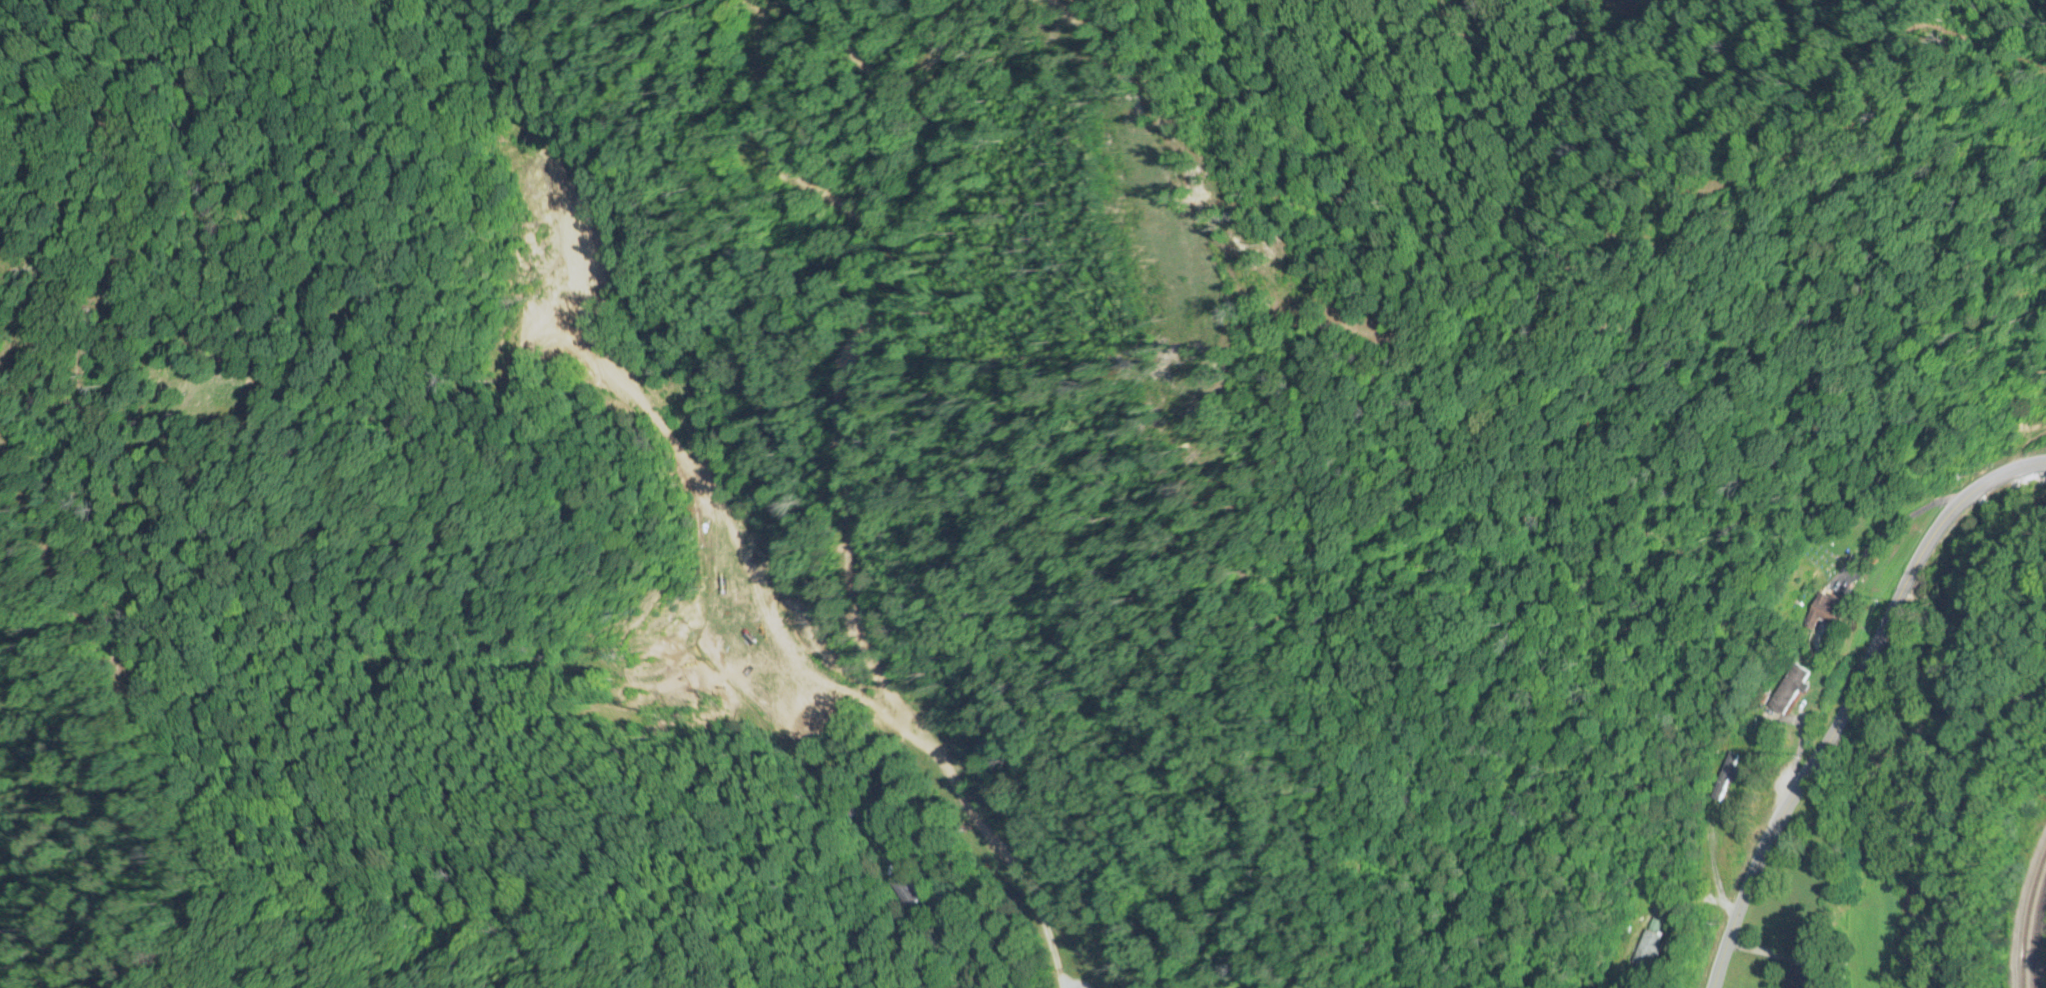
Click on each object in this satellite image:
road: (1902, 521)
building: (1825, 609)
building: (1789, 690)
road: (1850, 701)
building: (1723, 778)
building: (904, 890)
railway: (2035, 930)
building: (1648, 945)
building: (1804, 977)

